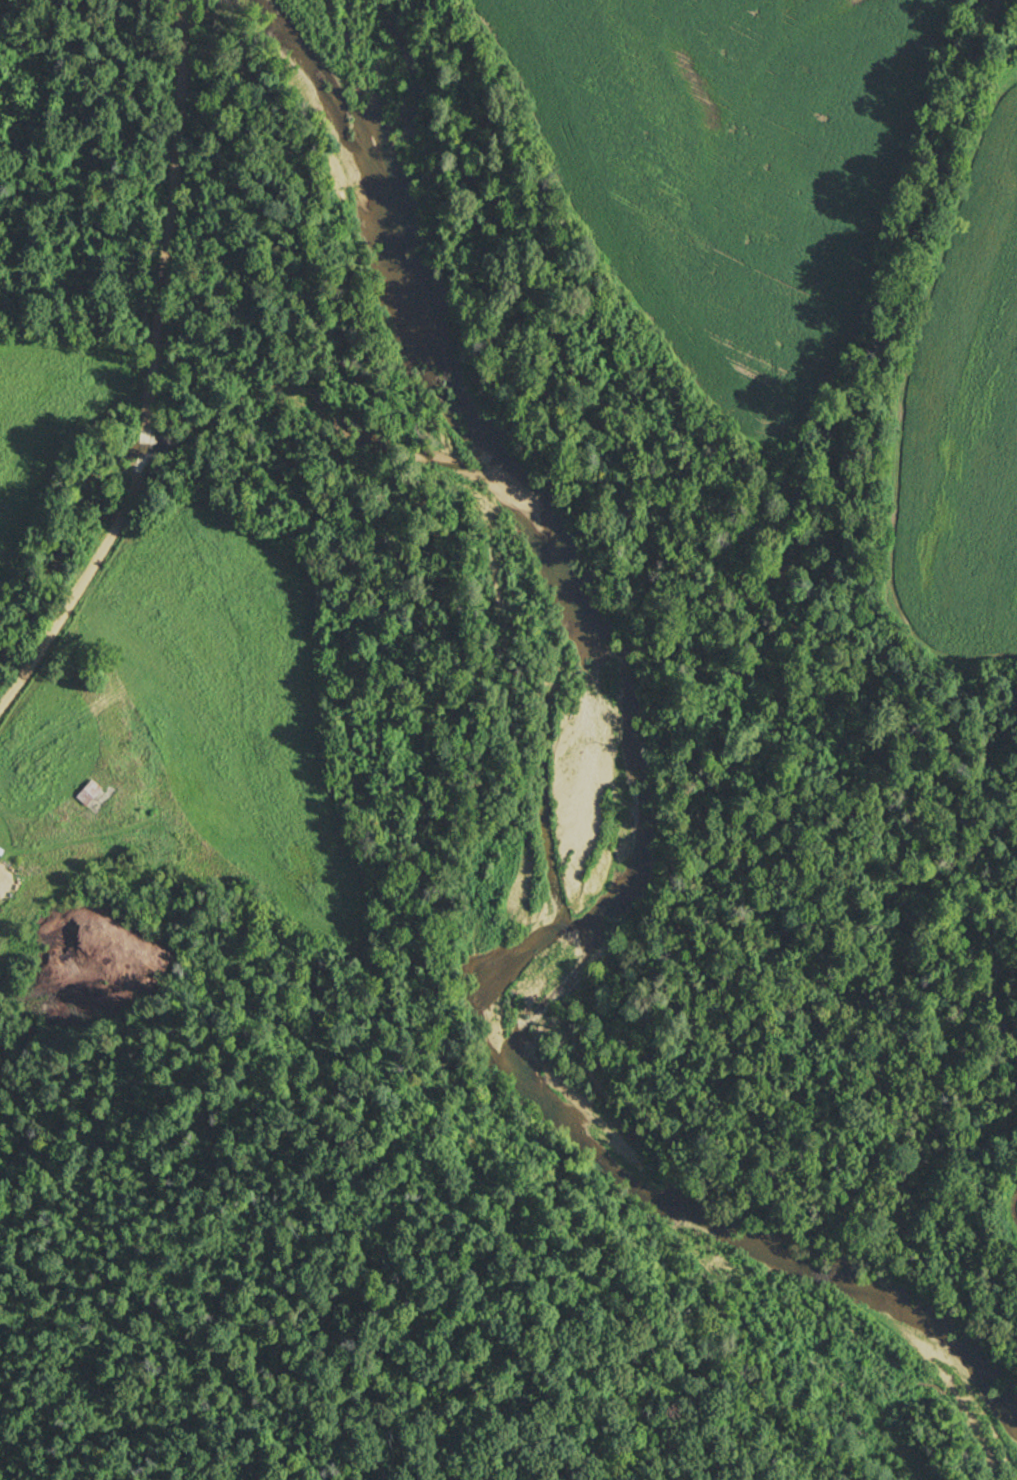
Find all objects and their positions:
road: (154, 375)
building: (94, 796)
river: (544, 819)
building: (0, 858)

